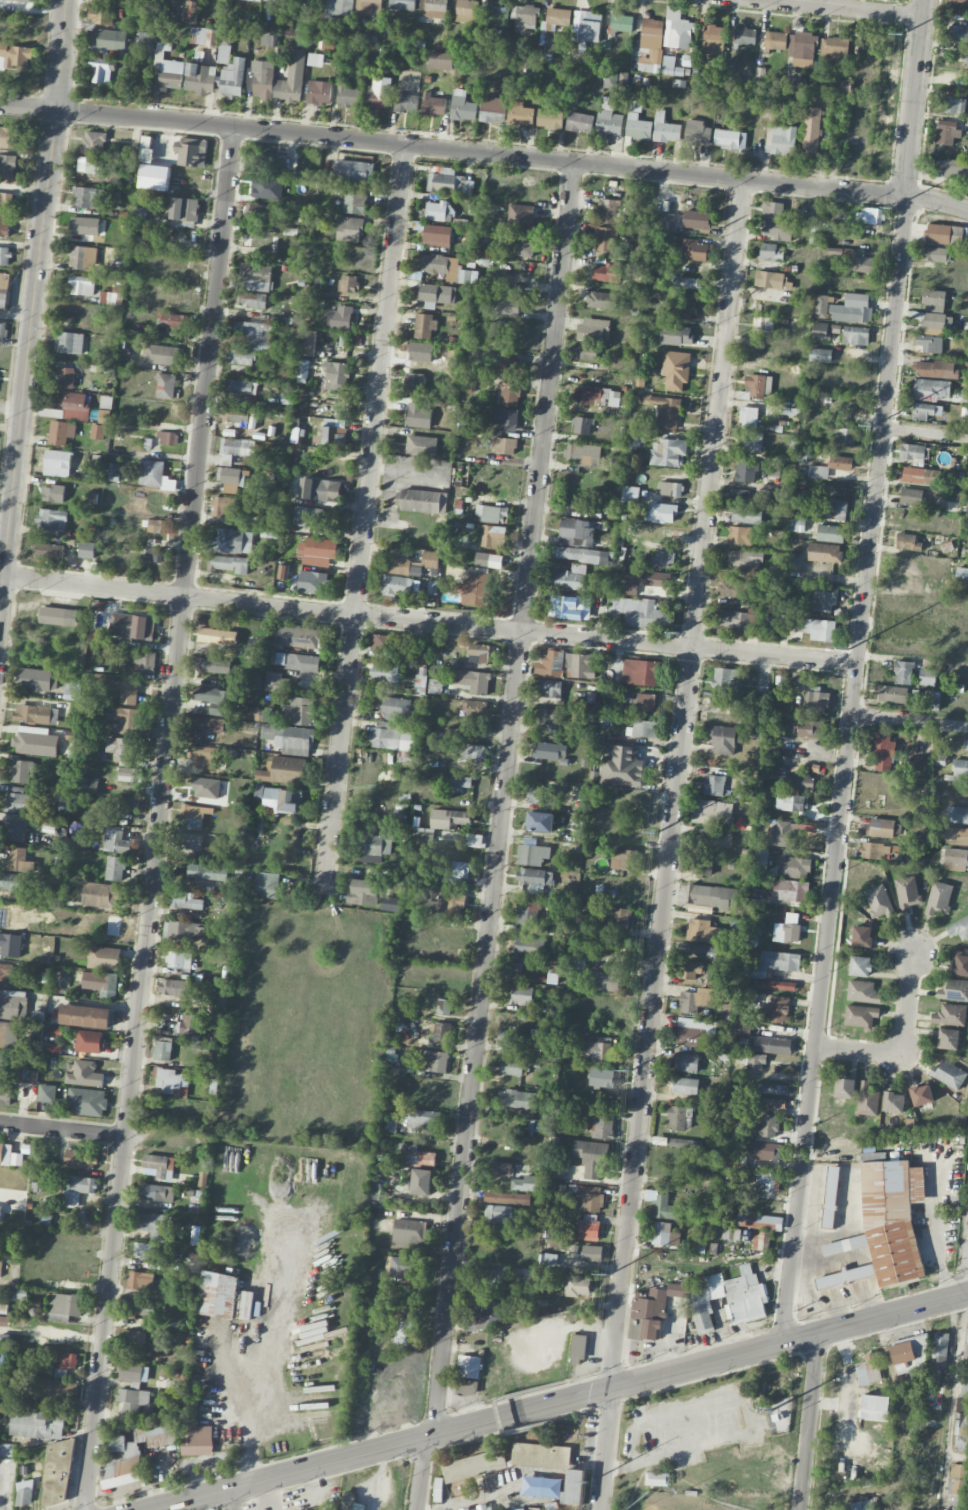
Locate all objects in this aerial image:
building: (18, 0)
building: (184, 0)
building: (251, 0)
building: (279, 1)
building: (168, 2)
building: (306, 2)
building: (960, 2)
building: (402, 5)
building: (372, 6)
building: (338, 8)
building: (433, 8)
road: (844, 8)
building: (467, 11)
building: (188, 12)
building: (100, 14)
building: (499, 14)
building: (526, 18)
building: (556, 19)
building: (620, 24)
building: (586, 28)
building: (677, 29)
power tower: (906, 32)
building: (957, 34)
building: (203, 36)
building: (745, 36)
building: (713, 38)
building: (107, 40)
building: (775, 41)
building: (651, 45)
building: (802, 49)
building: (835, 50)
building: (224, 54)
road: (60, 55)
building: (15, 56)
building: (315, 60)
building: (967, 60)
building: (440, 61)
building: (668, 65)
building: (167, 70)
building: (101, 71)
building: (233, 78)
building: (200, 79)
building: (261, 79)
building: (291, 79)
building: (610, 80)
building: (836, 86)
building: (319, 93)
building: (379, 94)
building: (347, 96)
road: (915, 98)
building: (406, 103)
building: (433, 105)
building: (954, 105)
building: (462, 106)
building: (635, 106)
road: (28, 108)
building: (493, 109)
building: (521, 114)
building: (608, 118)
building: (550, 119)
building: (579, 122)
building: (638, 128)
building: (665, 129)
building: (811, 131)
building: (697, 132)
building: (946, 133)
building: (9, 138)
building: (730, 139)
building: (780, 140)
building: (93, 142)
road: (480, 151)
building: (191, 152)
building: (146, 155)
building: (88, 164)
building: (7, 166)
building: (952, 168)
building: (353, 172)
building: (449, 182)
building: (88, 198)
building: (6, 200)
building: (354, 200)
road: (936, 200)
power tower: (893, 207)
building: (182, 209)
building: (258, 211)
building: (438, 211)
building: (608, 211)
building: (521, 216)
building: (872, 216)
building: (696, 219)
building: (665, 220)
building: (776, 222)
building: (4, 225)
building: (85, 226)
building: (349, 229)
building: (814, 234)
building: (946, 234)
building: (437, 235)
building: (606, 240)
building: (526, 245)
building: (694, 251)
building: (771, 252)
building: (936, 255)
building: (5, 256)
building: (82, 258)
building: (860, 262)
building: (447, 268)
building: (608, 273)
building: (255, 277)
building: (772, 280)
building: (685, 283)
building: (348, 284)
building: (82, 286)
building: (436, 293)
building: (111, 296)
building: (253, 301)
building: (602, 301)
building: (933, 301)
building: (509, 306)
building: (821, 306)
building: (684, 307)
building: (852, 309)
road: (16, 317)
building: (340, 318)
building: (173, 321)
building: (938, 321)
building: (424, 325)
building: (763, 325)
building: (594, 329)
building: (820, 330)
building: (3, 331)
building: (675, 334)
building: (255, 335)
building: (855, 335)
building: (70, 343)
building: (309, 343)
building: (930, 344)
building: (592, 353)
building: (160, 355)
building: (820, 356)
building: (240, 357)
road: (28, 361)
building: (510, 364)
building: (303, 368)
building: (935, 369)
building: (676, 370)
building: (335, 376)
building: (65, 378)
building: (414, 383)
building: (165, 386)
building: (757, 386)
building: (241, 387)
building: (930, 389)
building: (510, 394)
building: (597, 396)
building: (106, 402)
building: (75, 406)
building: (664, 411)
building: (925, 411)
building: (748, 415)
building: (104, 416)
building: (233, 416)
building: (418, 416)
building: (505, 418)
building: (582, 425)
power tower: (874, 428)
building: (61, 432)
building: (98, 432)
building: (332, 432)
road: (925, 433)
building: (638, 436)
building: (847, 437)
building: (168, 438)
building: (751, 442)
building: (421, 446)
building: (505, 446)
building: (237, 447)
building: (668, 452)
building: (913, 453)
building: (584, 454)
building: (225, 460)
building: (57, 463)
building: (840, 463)
building: (745, 471)
building: (818, 472)
building: (113, 473)
building: (154, 475)
building: (921, 476)
building: (230, 479)
building: (670, 489)
building: (320, 490)
building: (53, 494)
building: (630, 494)
building: (742, 496)
building: (913, 497)
building: (421, 501)
building: (224, 508)
building: (834, 510)
building: (662, 513)
building: (494, 514)
building: (747, 515)
building: (307, 516)
building: (51, 520)
building: (797, 524)
road: (364, 525)
building: (158, 526)
building: (576, 533)
building: (830, 533)
building: (739, 535)
building: (493, 536)
building: (234, 541)
building: (908, 543)
building: (87, 550)
building: (49, 551)
building: (315, 552)
building: (825, 553)
building: (154, 555)
building: (580, 555)
building: (663, 559)
building: (430, 560)
building: (488, 560)
building: (743, 560)
building: (229, 564)
building: (397, 566)
building: (415, 569)
building: (283, 572)
building: (570, 578)
building: (642, 581)
building: (313, 582)
building: (409, 586)
building: (732, 589)
building: (476, 590)
building: (824, 599)
building: (566, 607)
building: (638, 613)
building: (58, 616)
road: (430, 622)
building: (132, 626)
building: (819, 629)
power tower: (678, 632)
building: (218, 637)
building: (298, 637)
building: (387, 644)
power tower: (848, 648)
building: (482, 654)
building: (143, 661)
building: (298, 662)
building: (212, 665)
building: (567, 665)
building: (640, 672)
building: (386, 673)
building: (903, 673)
building: (927, 677)
building: (37, 680)
building: (726, 680)
building: (255, 681)
building: (472, 681)
building: (273, 682)
building: (550, 689)
building: (72, 691)
building: (129, 693)
building: (893, 694)
building: (217, 700)
building: (815, 700)
building: (933, 701)
building: (643, 703)
building: (395, 709)
building: (475, 709)
building: (299, 712)
building: (250, 713)
building: (36, 714)
building: (549, 717)
building: (123, 719)
road: (910, 720)
building: (644, 729)
building: (810, 729)
building: (268, 732)
building: (393, 736)
building: (191, 739)
building: (724, 739)
building: (295, 740)
building: (35, 742)
building: (122, 750)
building: (550, 751)
building: (473, 752)
building: (884, 752)
building: (406, 757)
building: (918, 763)
building: (621, 765)
building: (959, 770)
building: (21, 771)
building: (285, 771)
road: (845, 771)
building: (129, 775)
building: (796, 782)
road: (677, 783)
building: (461, 784)
building: (89, 785)
building: (714, 785)
building: (206, 788)
building: (744, 794)
building: (543, 796)
building: (61, 798)
building: (279, 799)
road: (502, 799)
building: (18, 800)
building: (790, 803)
building: (123, 806)
building: (711, 813)
building: (957, 815)
building: (194, 816)
road: (159, 819)
building: (449, 819)
building: (49, 824)
building: (880, 828)
building: (15, 831)
building: (782, 834)
power tower: (657, 835)
building: (956, 836)
building: (717, 839)
building: (474, 840)
building: (116, 841)
building: (190, 841)
building: (374, 847)
building: (875, 850)
building: (532, 855)
building: (760, 859)
building: (955, 859)
building: (19, 860)
building: (626, 860)
building: (704, 865)
building: (794, 867)
building: (115, 868)
building: (459, 869)
building: (207, 872)
building: (535, 879)
building: (12, 882)
building: (266, 885)
building: (790, 891)
building: (362, 892)
building: (907, 893)
building: (98, 894)
building: (712, 896)
building: (938, 897)
building: (184, 901)
building: (878, 901)
building: (452, 903)
building: (528, 913)
building: (617, 918)
building: (582, 923)
building: (959, 928)
building: (182, 931)
building: (702, 932)
building: (786, 934)
building: (862, 936)
building: (10, 945)
building: (530, 946)
building: (703, 948)
building: (104, 958)
building: (175, 959)
building: (578, 959)
building: (960, 962)
building: (513, 963)
building: (772, 964)
building: (860, 966)
building: (687, 970)
building: (5, 972)
building: (606, 979)
building: (101, 983)
building: (781, 986)
building: (176, 988)
building: (953, 990)
building: (862, 992)
building: (521, 995)
building: (701, 1000)
building: (220, 1002)
road: (908, 1004)
building: (13, 1005)
building: (445, 1007)
building: (777, 1010)
building: (950, 1015)
building: (85, 1016)
building: (860, 1016)
building: (192, 1025)
building: (742, 1030)
building: (54, 1032)
building: (695, 1032)
building: (441, 1033)
building: (8, 1035)
building: (510, 1036)
building: (948, 1039)
building: (89, 1042)
building: (772, 1045)
building: (553, 1046)
building: (53, 1048)
building: (599, 1049)
building: (162, 1051)
road: (858, 1052)
building: (1, 1060)
building: (435, 1061)
building: (756, 1062)
building: (686, 1063)
building: (512, 1067)
power tower: (632, 1069)
building: (85, 1074)
building: (949, 1074)
building: (601, 1078)
building: (172, 1082)
building: (685, 1086)
building: (845, 1088)
building: (769, 1089)
building: (28, 1090)
building: (47, 1093)
building: (5, 1095)
building: (921, 1095)
building: (867, 1099)
building: (518, 1100)
building: (87, 1102)
building: (894, 1102)
building: (771, 1103)
building: (676, 1118)
building: (423, 1119)
building: (601, 1126)
building: (768, 1126)
road: (90, 1133)
building: (682, 1143)
building: (766, 1155)
building: (9, 1156)
building: (417, 1156)
building: (592, 1158)
building: (80, 1159)
building: (159, 1166)
building: (499, 1169)
building: (422, 1182)
building: (766, 1182)
building: (528, 1184)
building: (79, 1187)
building: (706, 1188)
building: (157, 1193)
building: (507, 1198)
building: (663, 1206)
building: (829, 1206)
building: (0, 1207)
building: (888, 1218)
building: (498, 1219)
building: (759, 1221)
building: (155, 1225)
building: (585, 1228)
road: (932, 1228)
building: (408, 1234)
building: (737, 1234)
building: (665, 1235)
building: (761, 1240)
building: (144, 1250)
building: (592, 1253)
building: (547, 1260)
building: (0, 1266)
building: (406, 1271)
power tower: (609, 1274)
building: (845, 1276)
building: (491, 1279)
building: (140, 1281)
building: (577, 1286)
building: (218, 1294)
building: (746, 1296)
building: (66, 1304)
building: (139, 1308)
building: (648, 1309)
building: (4, 1321)
building: (403, 1333)
building: (966, 1341)
building: (133, 1342)
building: (941, 1344)
building: (578, 1348)
building: (908, 1354)
building: (66, 1361)
building: (2, 1363)
building: (468, 1367)
building: (868, 1369)
building: (132, 1371)
road: (589, 1375)
road: (849, 1385)
building: (466, 1388)
building: (53, 1392)
road: (953, 1394)
building: (133, 1399)
road: (561, 1402)
road: (831, 1403)
building: (875, 1408)
road: (590, 1411)
road: (749, 1414)
road: (499, 1415)
road: (809, 1423)
building: (37, 1425)
building: (195, 1431)
road: (604, 1449)
building: (6, 1451)
building: (136, 1451)
building: (541, 1455)
building: (59, 1458)
building: (492, 1461)
building: (457, 1471)
building: (959, 1471)
road: (420, 1475)
building: (657, 1479)
power tower: (589, 1482)
building: (574, 1488)
building: (24, 1493)
building: (959, 1493)
road: (234, 1499)
building: (860, 1505)
building: (483, 1508)

